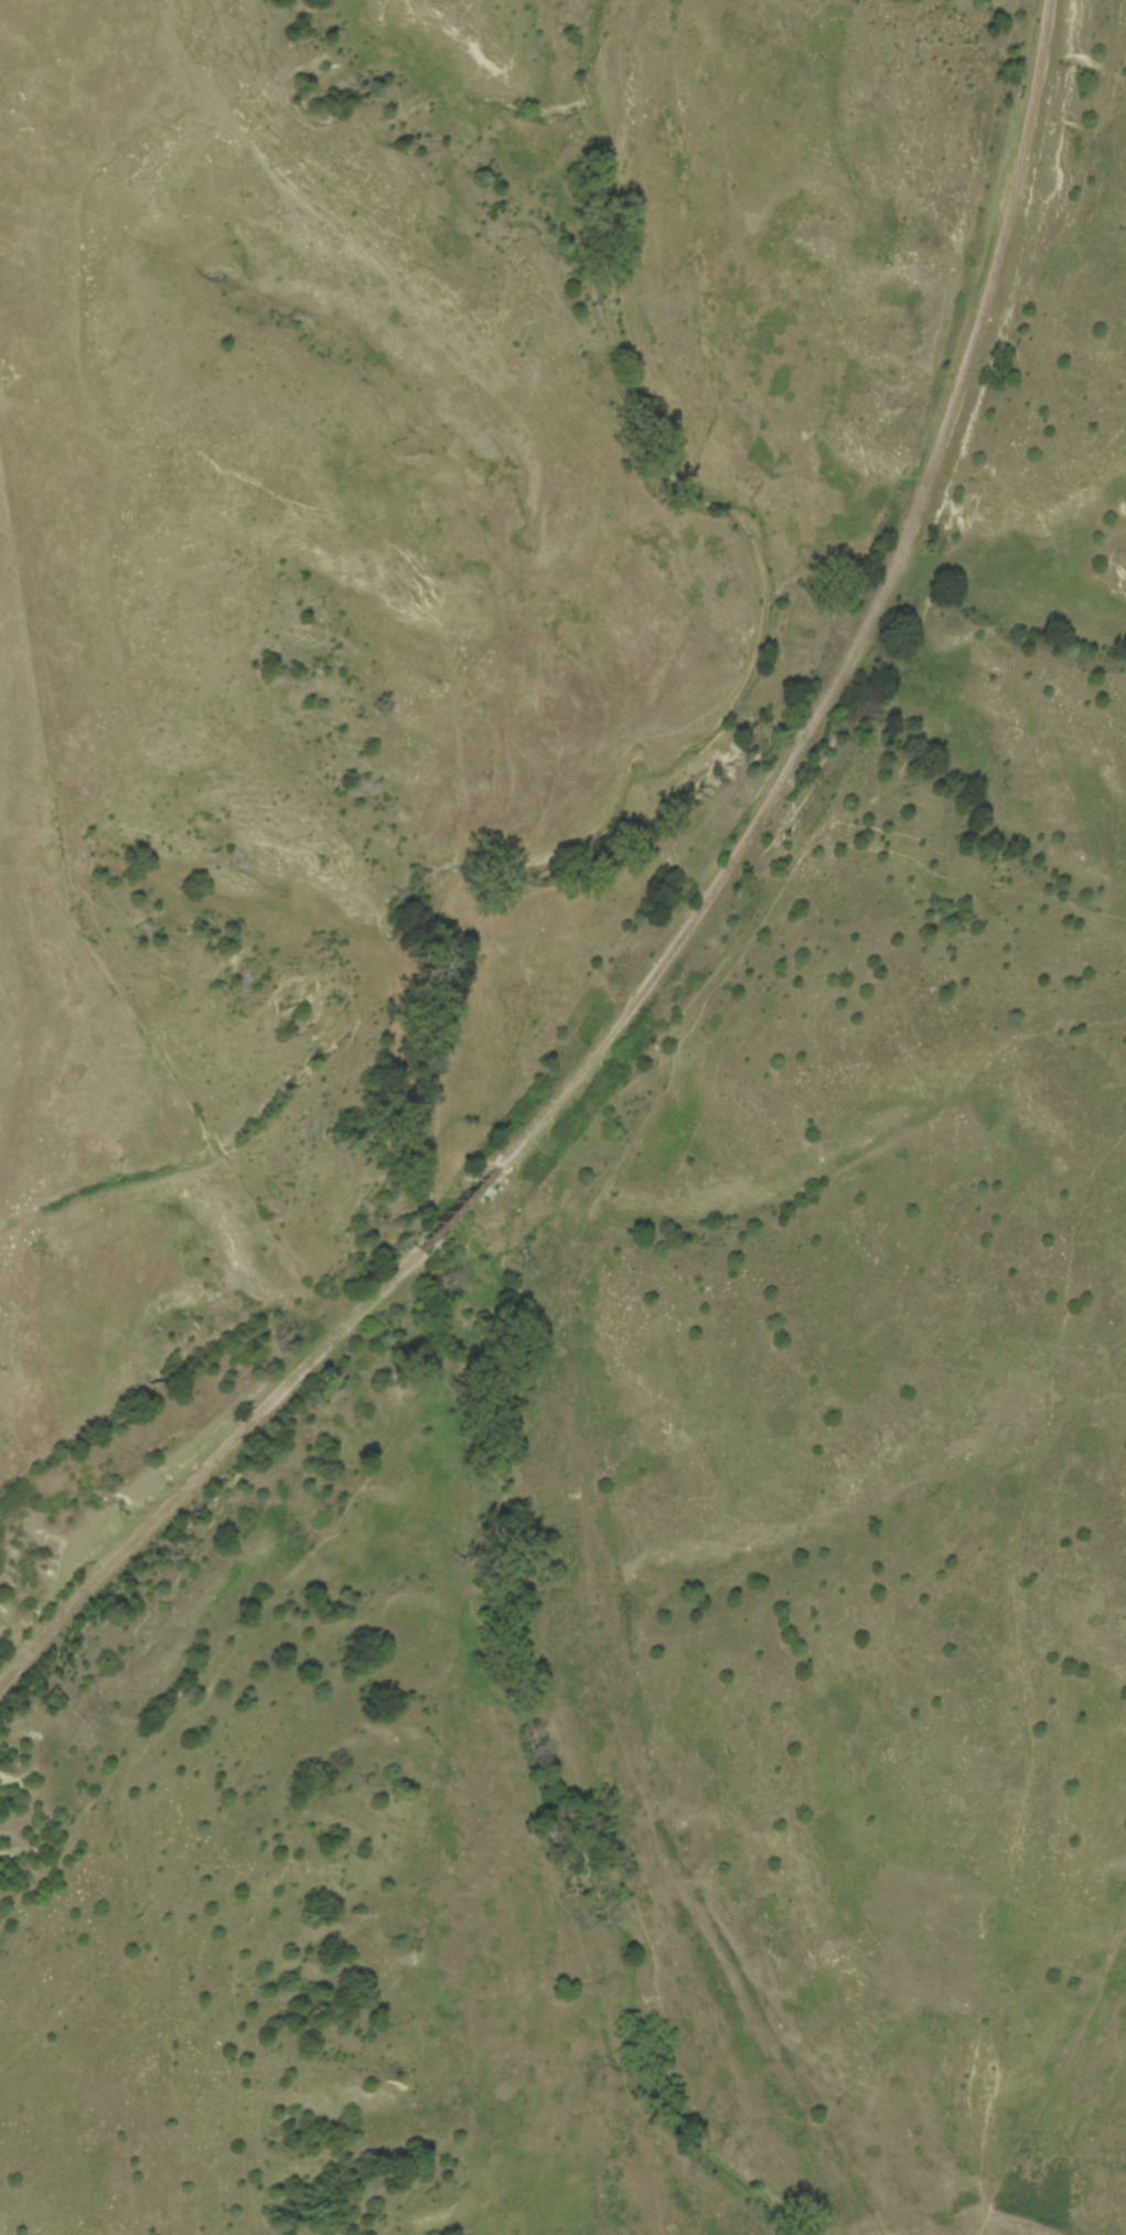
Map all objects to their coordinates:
railway: (705, 941)

